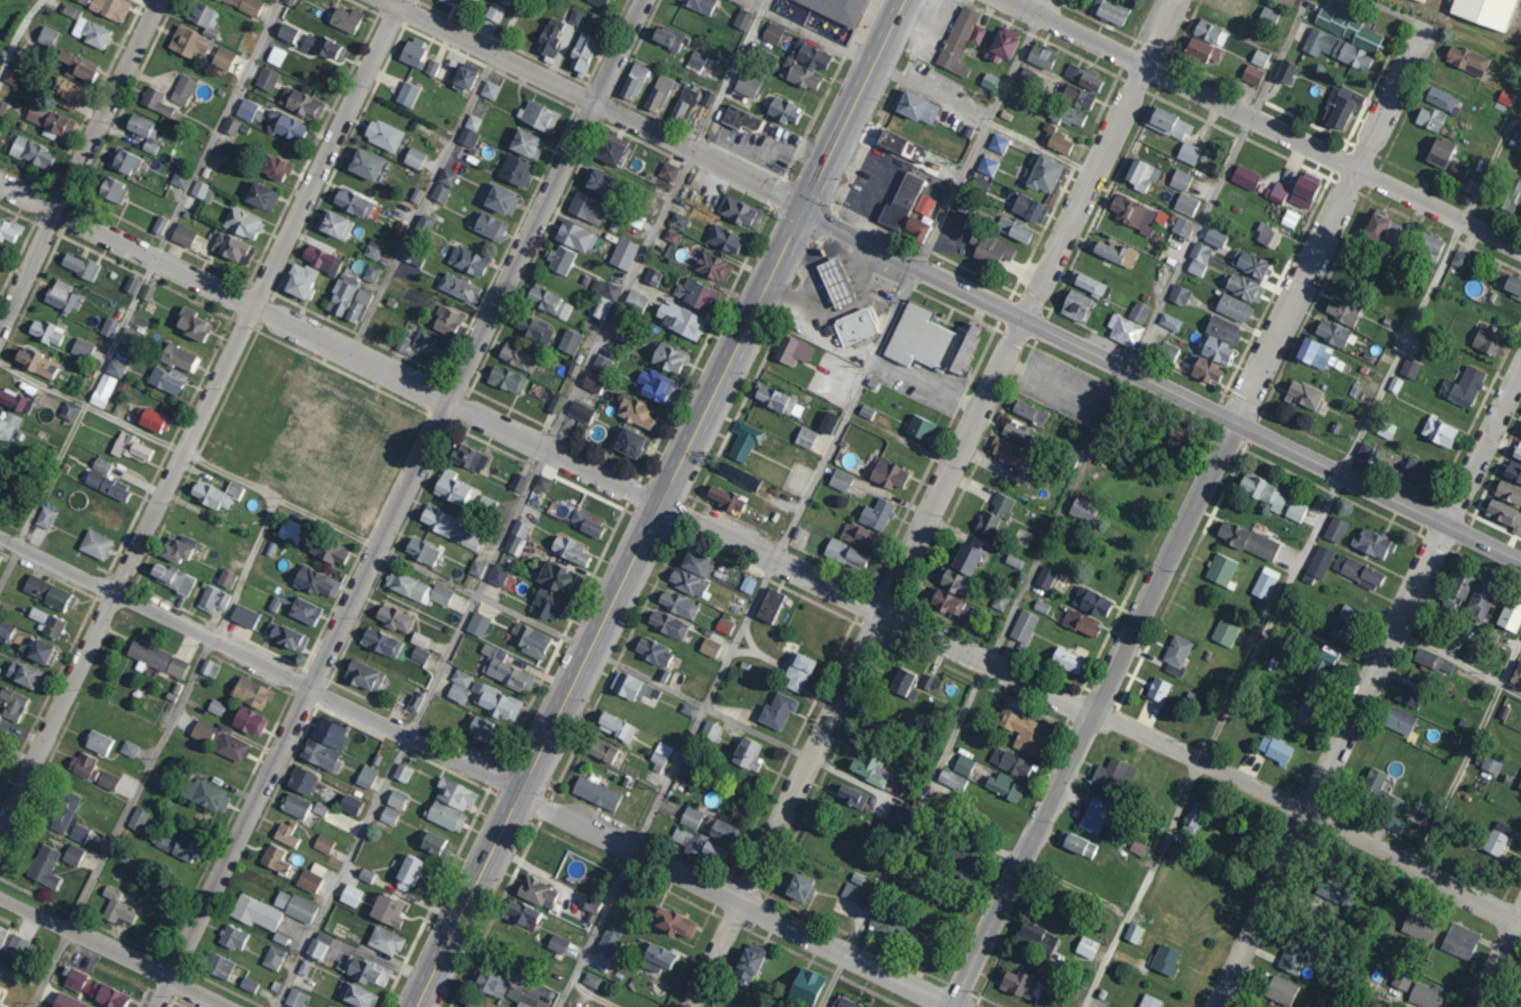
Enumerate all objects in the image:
building: (1426, 0)
building: (81, 1)
building: (246, 4)
building: (110, 8)
building: (841, 9)
building: (1110, 10)
building: (1484, 10)
building: (494, 12)
building: (1269, 14)
building: (575, 16)
building: (204, 18)
building: (344, 18)
building: (87, 27)
building: (1347, 28)
building: (286, 31)
building: (773, 32)
road: (808, 32)
building: (1210, 32)
building: (549, 35)
road: (16, 36)
building: (666, 36)
building: (47, 37)
building: (961, 39)
building: (188, 41)
building: (1001, 45)
building: (323, 46)
building: (1201, 49)
building: (1337, 49)
building: (412, 51)
building: (581, 52)
building: (275, 55)
building: (1041, 55)
building: (222, 57)
building: (806, 57)
building: (1259, 58)
building: (67, 59)
building: (696, 59)
building: (1466, 59)
building: (431, 66)
building: (85, 68)
building: (1285, 70)
building: (1252, 74)
building: (803, 76)
building: (1083, 76)
building: (463, 77)
building: (11, 78)
building: (266, 78)
building: (632, 81)
building: (989, 81)
building: (746, 84)
building: (182, 89)
building: (490, 89)
building: (65, 92)
building: (407, 93)
building: (657, 93)
building: (1077, 96)
building: (708, 97)
building: (1438, 97)
building: (1505, 97)
building: (156, 101)
building: (301, 101)
building: (683, 102)
road: (594, 103)
road: (855, 104)
building: (915, 105)
building: (1341, 105)
building: (2, 106)
building: (246, 109)
building: (782, 109)
building: (1067, 114)
building: (539, 115)
building: (739, 117)
building: (1430, 118)
building: (49, 119)
building: (473, 122)
road: (1260, 122)
building: (1169, 123)
building: (285, 124)
building: (230, 125)
building: (0, 129)
building: (142, 130)
building: (383, 134)
building: (467, 137)
building: (1515, 139)
building: (526, 143)
building: (998, 143)
building: (901, 145)
building: (609, 149)
building: (1440, 151)
building: (31, 152)
building: (1188, 153)
building: (414, 157)
building: (123, 160)
road: (78, 163)
building: (365, 163)
building: (987, 165)
building: (275, 167)
building: (1457, 169)
building: (514, 170)
building: (667, 171)
building: (1044, 172)
building: (1141, 174)
road: (434, 176)
building: (447, 176)
building: (1245, 177)
building: (179, 178)
road: (1085, 178)
building: (597, 179)
building: (1180, 179)
building: (112, 190)
building: (202, 190)
building: (1303, 190)
building: (1278, 192)
building: (439, 193)
building: (1511, 194)
building: (260, 195)
building: (415, 195)
building: (500, 198)
building: (353, 202)
building: (900, 202)
building: (1186, 203)
building: (924, 204)
traffic signals: (805, 207)
building: (1029, 207)
building: (587, 208)
building: (738, 210)
building: (1132, 213)
building: (1161, 217)
building: (678, 220)
building: (426, 222)
building: (242, 223)
building: (333, 223)
building: (159, 224)
road: (655, 224)
building: (488, 225)
building: (1182, 226)
building: (915, 227)
building: (1014, 228)
building: (1383, 228)
building: (399, 229)
building: (8, 230)
building: (1267, 234)
building: (182, 235)
building: (574, 235)
building: (670, 235)
building: (1214, 237)
building: (723, 238)
building: (1430, 244)
building: (232, 247)
building: (372, 247)
building: (993, 249)
building: (1114, 252)
building: (623, 253)
building: (320, 258)
building: (559, 258)
building: (1198, 258)
building: (1459, 259)
building: (467, 260)
building: (1249, 262)
building: (79, 265)
building: (711, 266)
building: (371, 272)
building: (652, 276)
building: (299, 279)
building: (835, 282)
building: (1089, 283)
building: (130, 284)
building: (1510, 284)
road: (140, 287)
building: (459, 287)
building: (604, 287)
building: (1243, 287)
building: (146, 292)
building: (694, 293)
building: (341, 294)
building: (1179, 294)
building: (61, 296)
building: (635, 299)
building: (548, 301)
building: (357, 305)
building: (1075, 305)
building: (600, 306)
building: (1234, 307)
building: (1139, 311)
building: (1342, 311)
building: (679, 318)
building: (445, 321)
building: (1170, 321)
building: (191, 323)
building: (854, 326)
building: (108, 327)
building: (533, 328)
building: (1223, 329)
building: (1125, 330)
building: (45, 331)
building: (1332, 332)
building: (127, 336)
building: (569, 340)
building: (931, 340)
building: (1489, 341)
building: (402, 343)
building: (426, 344)
road: (328, 346)
building: (81, 348)
building: (1169, 349)
building: (1216, 349)
building: (792, 351)
building: (1313, 352)
building: (180, 357)
building: (517, 357)
building: (668, 357)
building: (35, 362)
building: (600, 364)
building: (115, 367)
building: (1410, 368)
building: (1206, 370)
road: (1517, 378)
building: (166, 379)
building: (506, 379)
building: (592, 382)
building: (653, 384)
building: (1395, 384)
road: (1162, 386)
building: (1463, 386)
building: (102, 390)
building: (1304, 394)
building: (15, 400)
building: (777, 400)
building: (555, 403)
building: (1027, 410)
building: (67, 411)
building: (580, 411)
building: (635, 411)
building: (865, 411)
road: (199, 413)
building: (151, 419)
building: (827, 422)
building: (8, 425)
building: (919, 427)
building: (1386, 429)
building: (346, 431)
building: (1438, 431)
building: (1519, 431)
building: (1015, 432)
building: (805, 437)
building: (1178, 437)
building: (743, 440)
building: (630, 442)
building: (131, 447)
building: (1365, 450)
building: (1007, 452)
building: (1517, 452)
building: (469, 457)
building: (100, 465)
building: (1418, 471)
building: (1512, 471)
building: (888, 474)
building: (738, 475)
building: (840, 480)
building: (517, 482)
building: (542, 483)
building: (106, 484)
building: (451, 487)
building: (1263, 492)
building: (1508, 492)
building: (215, 494)
building: (723, 497)
road: (927, 502)
road: (401, 504)
road: (803, 504)
road: (1056, 505)
building: (1082, 508)
building: (1295, 509)
building: (876, 514)
building: (994, 514)
road: (1187, 515)
building: (1504, 515)
building: (44, 517)
building: (586, 522)
building: (448, 526)
building: (1335, 529)
building: (290, 531)
building: (858, 534)
building: (516, 538)
building: (1247, 539)
building: (1373, 543)
building: (95, 544)
building: (177, 548)
building: (270, 548)
building: (328, 550)
building: (569, 550)
building: (420, 551)
building: (846, 553)
building: (969, 554)
building: (1013, 561)
building: (1320, 561)
building: (695, 562)
road: (1295, 562)
building: (476, 568)
building: (1221, 569)
building: (1357, 571)
building: (497, 575)
building: (171, 577)
building: (555, 577)
building: (1045, 577)
building: (225, 578)
building: (951, 580)
building: (315, 581)
building: (687, 582)
building: (1265, 582)
building: (1460, 582)
building: (747, 584)
building: (417, 588)
building: (48, 592)
building: (212, 599)
building: (945, 601)
building: (1091, 601)
building: (1000, 602)
building: (547, 604)
building: (677, 604)
building: (769, 604)
road: (609, 606)
building: (1041, 606)
building: (304, 610)
building: (36, 614)
building: (244, 615)
building: (1510, 615)
building: (394, 617)
building: (1080, 622)
building: (1343, 622)
building: (477, 623)
building: (667, 624)
building: (723, 625)
building: (1023, 626)
building: (52, 627)
building: (5, 630)
building: (1224, 633)
building: (285, 636)
road: (564, 636)
building: (419, 639)
building: (529, 640)
building: (381, 642)
building: (709, 646)
building: (1177, 650)
building: (38, 651)
building: (653, 652)
building: (419, 654)
building: (156, 658)
building: (1066, 660)
building: (1325, 660)
building: (1431, 661)
road: (259, 663)
road: (1456, 664)
building: (210, 668)
building: (504, 669)
building: (1174, 670)
building: (798, 671)
building: (24, 675)
building: (363, 675)
building: (1312, 677)
building: (930, 682)
building: (903, 683)
road: (1368, 684)
building: (459, 686)
building: (632, 687)
building: (1157, 691)
building: (251, 692)
building: (1407, 693)
building: (414, 702)
building: (11, 703)
building: (498, 703)
building: (215, 707)
building: (687, 709)
road: (1092, 709)
building: (777, 710)
building: (1305, 714)
building: (248, 721)
building: (1400, 721)
road: (405, 726)
building: (615, 726)
building: (481, 729)
building: (201, 731)
building: (711, 731)
building: (1023, 731)
building: (328, 733)
building: (97, 742)
building: (229, 744)
building: (128, 748)
building: (1274, 749)
building: (601, 750)
road: (1468, 751)
road: (155, 752)
building: (660, 753)
building: (320, 754)
building: (747, 754)
building: (1011, 762)
building: (81, 764)
building: (1492, 764)
building: (963, 765)
building: (868, 769)
building: (402, 772)
building: (686, 772)
building: (1112, 775)
building: (365, 776)
building: (107, 780)
building: (300, 780)
building: (952, 780)
building: (1374, 780)
building: (1519, 785)
building: (1003, 787)
building: (596, 793)
building: (454, 794)
building: (206, 795)
building: (851, 796)
building: (396, 799)
building: (1393, 803)
building: (349, 804)
building: (294, 805)
building: (319, 809)
building: (388, 815)
building: (896, 815)
building: (1094, 815)
building: (445, 816)
building: (68, 817)
building: (1191, 817)
building: (690, 818)
building: (137, 819)
building: (1395, 825)
building: (723, 832)
building: (284, 835)
building: (1497, 838)
building: (431, 842)
building: (323, 844)
building: (699, 844)
building: (1076, 844)
building: (176, 845)
building: (1137, 848)
building: (72, 855)
building: (274, 858)
building: (962, 863)
building: (44, 867)
building: (407, 872)
building: (310, 878)
building: (798, 886)
building: (1335, 891)
building: (536, 892)
building: (852, 892)
building: (349, 895)
road: (735, 896)
building: (116, 906)
building: (294, 906)
building: (591, 907)
building: (387, 910)
building: (255, 912)
building: (1418, 913)
building: (520, 914)
building: (673, 923)
building: (886, 924)
building: (1418, 928)
building: (1133, 933)
building: (2, 934)
building: (610, 936)
building: (1037, 936)
building: (232, 937)
building: (384, 940)
building: (1460, 940)
building: (557, 943)
building: (318, 945)
building: (16, 946)
building: (1086, 947)
road: (113, 951)
building: (1293, 954)
building: (272, 957)
road: (1496, 957)
building: (656, 958)
building: (1165, 960)
building: (748, 963)
building: (217, 965)
building: (304, 967)
building: (366, 971)
building: (74, 979)
building: (1401, 980)
building: (590, 981)
building: (489, 983)
building: (247, 984)
building: (1018, 984)
building: (805, 986)
building: (1281, 990)
building: (513, 993)
building: (107, 995)
road: (592, 995)
building: (357, 996)
building: (1425, 996)
building: (294, 998)
building: (67, 1001)
building: (527, 1001)
building: (1148, 1001)
building: (844, 1003)
building: (466, 1005)
building: (0, 1006)
building: (1039, 1006)

